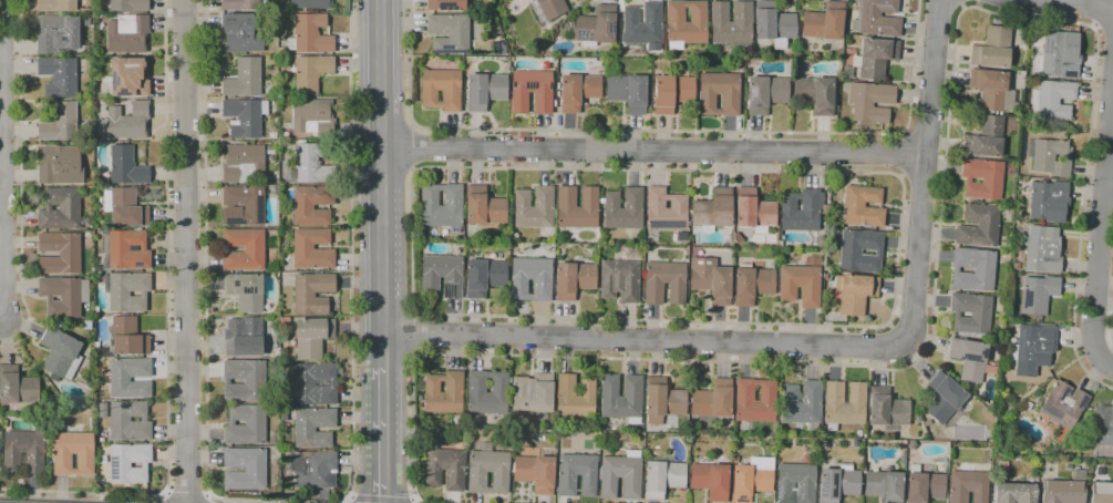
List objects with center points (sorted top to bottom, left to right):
road: (961, 3)
road: (1068, 3)
building: (240, 4)
building: (311, 4)
building: (445, 4)
rooftop solar panel: (449, 4)
building: (55, 6)
building: (128, 6)
road: (939, 6)
building: (548, 9)
road: (1094, 13)
building: (877, 19)
building: (85, 21)
building: (824, 22)
building: (686, 23)
building: (774, 23)
building: (732, 24)
building: (643, 25)
building: (596, 27)
rooftop solar panel: (611, 27)
rooftop solar panel: (581, 32)
building: (127, 33)
building: (240, 33)
building: (449, 33)
building: (56, 34)
building: (310, 34)
road: (1104, 42)
rooftop solar panel: (444, 45)
rooftop solar panel: (1048, 45)
building: (497, 48)
building: (992, 48)
building: (284, 51)
rooftop solar panel: (447, 52)
building: (1059, 54)
building: (876, 58)
building: (550, 60)
building: (846, 72)
building: (310, 73)
building: (59, 76)
building: (127, 78)
building: (244, 79)
rooftop solar panel: (534, 83)
building: (989, 89)
building: (442, 90)
building: (484, 91)
building: (532, 91)
building: (577, 91)
building: (627, 91)
rooftop solar panel: (754, 92)
building: (671, 93)
building: (815, 93)
building: (765, 94)
building: (730, 97)
building: (1006, 100)
building: (1052, 100)
building: (869, 101)
rooftop solar panel: (758, 104)
building: (245, 116)
building: (312, 116)
building: (128, 121)
building: (60, 123)
road: (661, 131)
road: (925, 133)
building: (272, 135)
building: (986, 138)
road: (415, 148)
road: (653, 151)
road: (900, 154)
building: (1052, 154)
building: (243, 164)
building: (311, 164)
building: (60, 165)
building: (126, 166)
road: (925, 171)
building: (982, 178)
road: (0, 179)
road: (921, 179)
road: (20, 182)
road: (381, 183)
building: (1049, 201)
building: (246, 204)
building: (308, 204)
building: (442, 206)
building: (863, 206)
building: (124, 207)
building: (484, 207)
building: (577, 207)
building: (534, 208)
building: (624, 208)
building: (61, 209)
building: (664, 209)
building: (712, 211)
building: (802, 211)
rooftop solar panel: (257, 212)
building: (754, 212)
road: (1101, 222)
rooftop solar panel: (234, 224)
rooftop solar panel: (673, 224)
building: (979, 225)
building: (736, 238)
building: (244, 249)
building: (312, 249)
building: (1042, 249)
building: (126, 250)
road: (186, 250)
building: (859, 250)
building: (59, 253)
road: (350, 256)
road: (936, 257)
rooftop solar panel: (138, 264)
building: (1016, 265)
building: (973, 269)
building: (443, 275)
building: (483, 277)
building: (530, 279)
building: (573, 279)
building: (711, 279)
building: (619, 280)
building: (664, 283)
building: (801, 283)
rooftop solar panel: (236, 284)
building: (752, 284)
rooftop solar panel: (246, 289)
building: (127, 290)
rooftop solar panel: (251, 290)
building: (245, 291)
building: (312, 292)
rooftop solar panel: (447, 292)
building: (855, 292)
building: (1038, 294)
building: (63, 296)
road: (204, 296)
building: (971, 312)
road: (892, 316)
road: (0, 320)
building: (282, 321)
road: (1111, 325)
road: (166, 329)
road: (416, 333)
building: (244, 337)
building: (311, 337)
building: (123, 338)
road: (643, 340)
building: (1032, 349)
building: (60, 353)
rooftop solar panel: (969, 355)
building: (969, 358)
road: (1106, 363)
rooftop solar panel: (967, 371)
building: (120, 380)
building: (244, 380)
building: (311, 384)
building: (17, 386)
rooftop solar panel: (1063, 389)
building: (444, 392)
building: (487, 392)
building: (533, 393)
building: (575, 397)
building: (621, 398)
building: (944, 398)
rooftop solar panel: (1081, 399)
building: (662, 400)
building: (713, 400)
building: (755, 400)
building: (802, 404)
building: (844, 404)
building: (1063, 404)
building: (1028, 406)
building: (102, 410)
building: (887, 410)
rooftop solar panel: (1049, 412)
building: (128, 421)
building: (245, 424)
building: (1103, 425)
building: (313, 427)
building: (858, 433)
road: (383, 434)
building: (275, 438)
building: (23, 452)
building: (73, 453)
building: (128, 462)
building: (245, 469)
building: (313, 469)
building: (445, 469)
building: (488, 470)
building: (535, 473)
building: (576, 474)
building: (620, 476)
building: (662, 479)
rooftop solar panel: (831, 480)
building: (711, 481)
building: (750, 482)
building: (795, 483)
building: (838, 483)
building: (884, 485)
building: (924, 485)
building: (968, 485)
rooftop solar panel: (822, 486)
rooftop solar panel: (777, 489)
building: (1064, 489)
building: (1101, 492)
building: (1014, 493)
road: (186, 495)
building: (282, 496)
building: (323, 496)
traffic signals: (384, 496)
rooftop solar panel: (801, 496)
road: (380, 497)
road: (351, 500)

